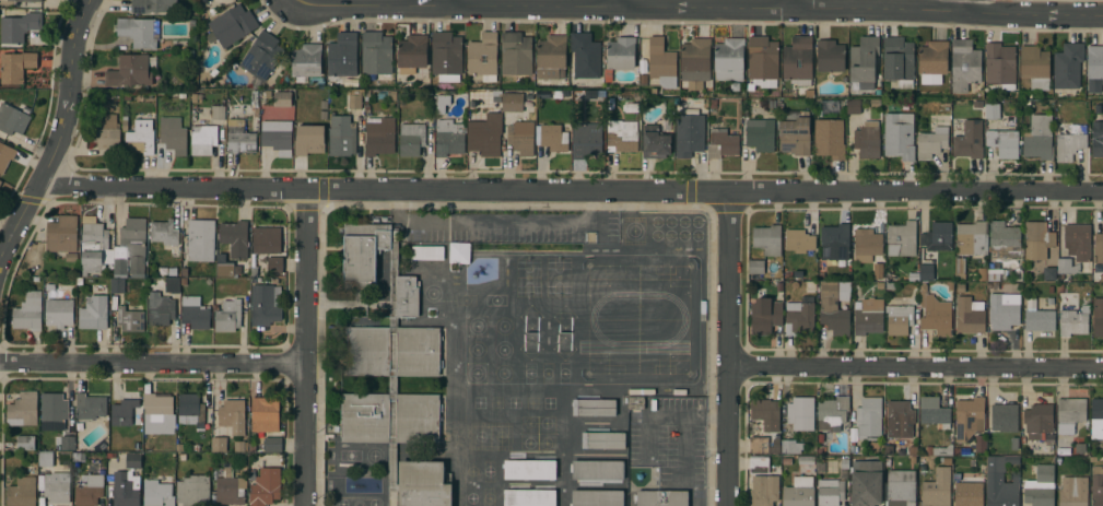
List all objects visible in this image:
building: (31, 0)
road: (453, 2)
road: (623, 3)
road: (795, 4)
building: (150, 5)
road: (967, 7)
road: (700, 8)
building: (17, 25)
building: (232, 25)
building: (139, 32)
building: (375, 54)
building: (445, 54)
building: (515, 54)
building: (411, 55)
building: (261, 56)
building: (342, 56)
building: (482, 56)
building: (585, 56)
building: (619, 56)
building: (550, 57)
building: (830, 57)
building: (762, 58)
building: (728, 60)
building: (798, 61)
building: (899, 61)
building: (661, 62)
building: (695, 62)
building: (863, 62)
building: (932, 62)
building: (307, 64)
building: (964, 64)
building: (999, 66)
building: (1067, 66)
building: (15, 67)
building: (1035, 67)
building: (643, 68)
building: (1094, 69)
building: (129, 72)
building: (643, 80)
building: (735, 87)
building: (254, 99)
building: (282, 99)
building: (354, 102)
building: (516, 102)
building: (713, 104)
building: (876, 104)
building: (442, 105)
building: (772, 105)
building: (853, 106)
building: (631, 107)
building: (991, 110)
building: (219, 113)
building: (12, 119)
road: (59, 133)
building: (105, 133)
building: (239, 134)
building: (689, 134)
building: (760, 134)
building: (173, 136)
building: (379, 136)
building: (621, 136)
building: (899, 136)
building: (277, 137)
building: (341, 137)
building: (484, 137)
building: (551, 137)
building: (795, 137)
building: (140, 138)
building: (411, 138)
building: (449, 138)
building: (1039, 138)
building: (829, 139)
building: (1096, 139)
building: (202, 140)
building: (309, 140)
building: (586, 140)
building: (867, 140)
building: (969, 140)
building: (521, 142)
building: (931, 142)
building: (1070, 142)
building: (655, 143)
building: (721, 143)
building: (1005, 143)
building: (5, 156)
building: (0, 181)
road: (570, 189)
road: (493, 223)
building: (164, 233)
building: (61, 234)
building: (937, 237)
building: (234, 238)
building: (971, 238)
building: (200, 239)
building: (266, 239)
building: (767, 239)
building: (901, 239)
building: (1004, 239)
building: (1037, 239)
building: (799, 240)
building: (1077, 242)
building: (834, 243)
building: (866, 245)
building: (94, 246)
building: (1098, 248)
building: (131, 249)
building: (426, 252)
building: (459, 254)
building: (71, 258)
building: (254, 266)
building: (274, 266)
building: (1066, 266)
building: (223, 267)
building: (755, 267)
building: (959, 267)
building: (878, 271)
building: (172, 272)
building: (185, 272)
building: (926, 272)
building: (913, 278)
building: (184, 282)
building: (116, 285)
building: (880, 285)
building: (950, 285)
building: (890, 286)
building: (960, 289)
building: (1049, 291)
building: (1049, 302)
building: (114, 304)
building: (162, 304)
building: (58, 306)
building: (263, 306)
building: (832, 310)
building: (1004, 310)
building: (28, 311)
building: (195, 313)
building: (93, 314)
building: (935, 315)
building: (227, 316)
building: (764, 316)
building: (868, 316)
building: (969, 316)
building: (1037, 317)
building: (1098, 317)
building: (798, 318)
building: (130, 319)
building: (901, 319)
building: (1073, 321)
road: (305, 348)
road: (728, 349)
road: (152, 364)
road: (915, 366)
building: (391, 370)
building: (641, 392)
building: (679, 392)
building: (635, 402)
building: (55, 408)
building: (90, 408)
building: (594, 408)
building: (189, 409)
building: (23, 410)
building: (126, 410)
building: (157, 412)
building: (765, 413)
building: (799, 413)
building: (831, 413)
building: (934, 413)
building: (265, 414)
building: (1069, 414)
building: (1096, 414)
building: (232, 415)
building: (1004, 417)
building: (868, 419)
building: (899, 419)
building: (969, 419)
building: (1037, 421)
building: (1049, 439)
building: (602, 440)
building: (25, 443)
building: (63, 443)
building: (272, 444)
building: (979, 444)
building: (1013, 444)
building: (219, 445)
building: (758, 445)
building: (791, 447)
building: (179, 448)
building: (239, 448)
building: (253, 448)
building: (943, 450)
building: (889, 451)
building: (913, 451)
building: (928, 451)
building: (45, 458)
building: (133, 460)
building: (806, 460)
building: (759, 464)
building: (843, 469)
building: (30, 470)
building: (529, 470)
building: (597, 470)
building: (1000, 482)
building: (866, 483)
building: (1096, 485)
building: (265, 486)
building: (1040, 486)
building: (57, 487)
building: (230, 487)
building: (900, 487)
building: (937, 489)
building: (125, 490)
building: (159, 490)
building: (192, 491)
building: (763, 491)
building: (1072, 491)
building: (22, 492)
building: (89, 492)
building: (798, 492)
building: (830, 492)
building: (969, 494)
building: (529, 497)
building: (597, 498)
building: (661, 498)

